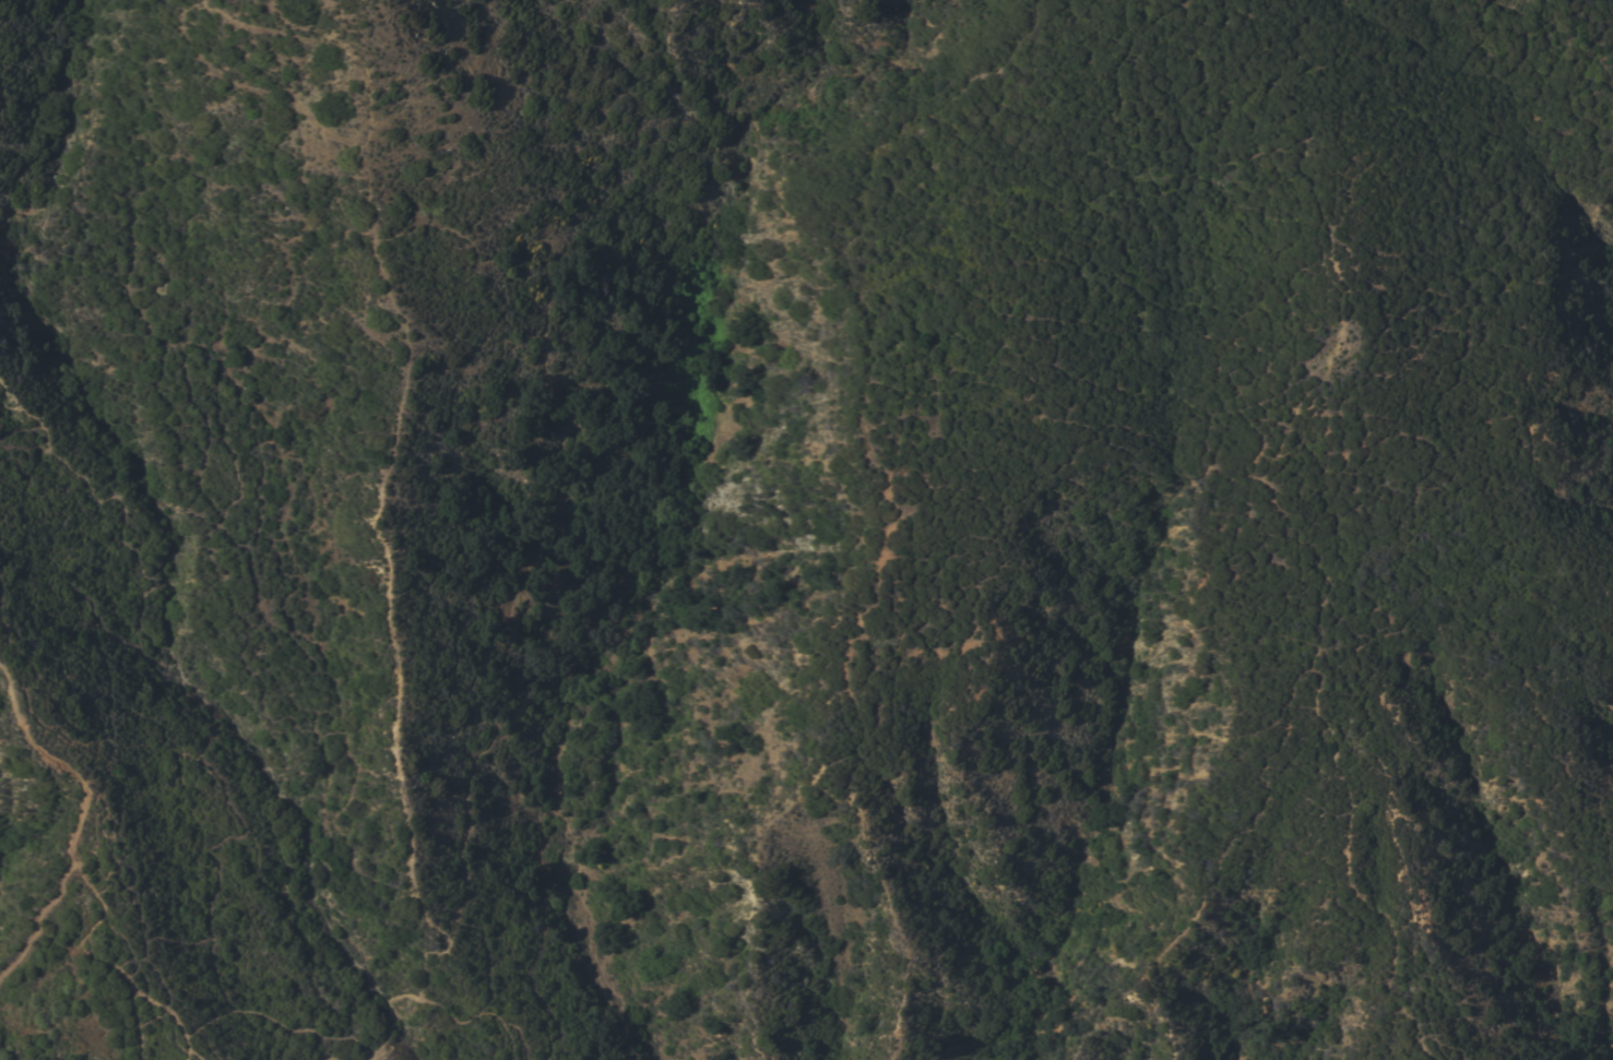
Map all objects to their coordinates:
park: (807, 529)
road: (474, 1012)
road: (391, 1014)

